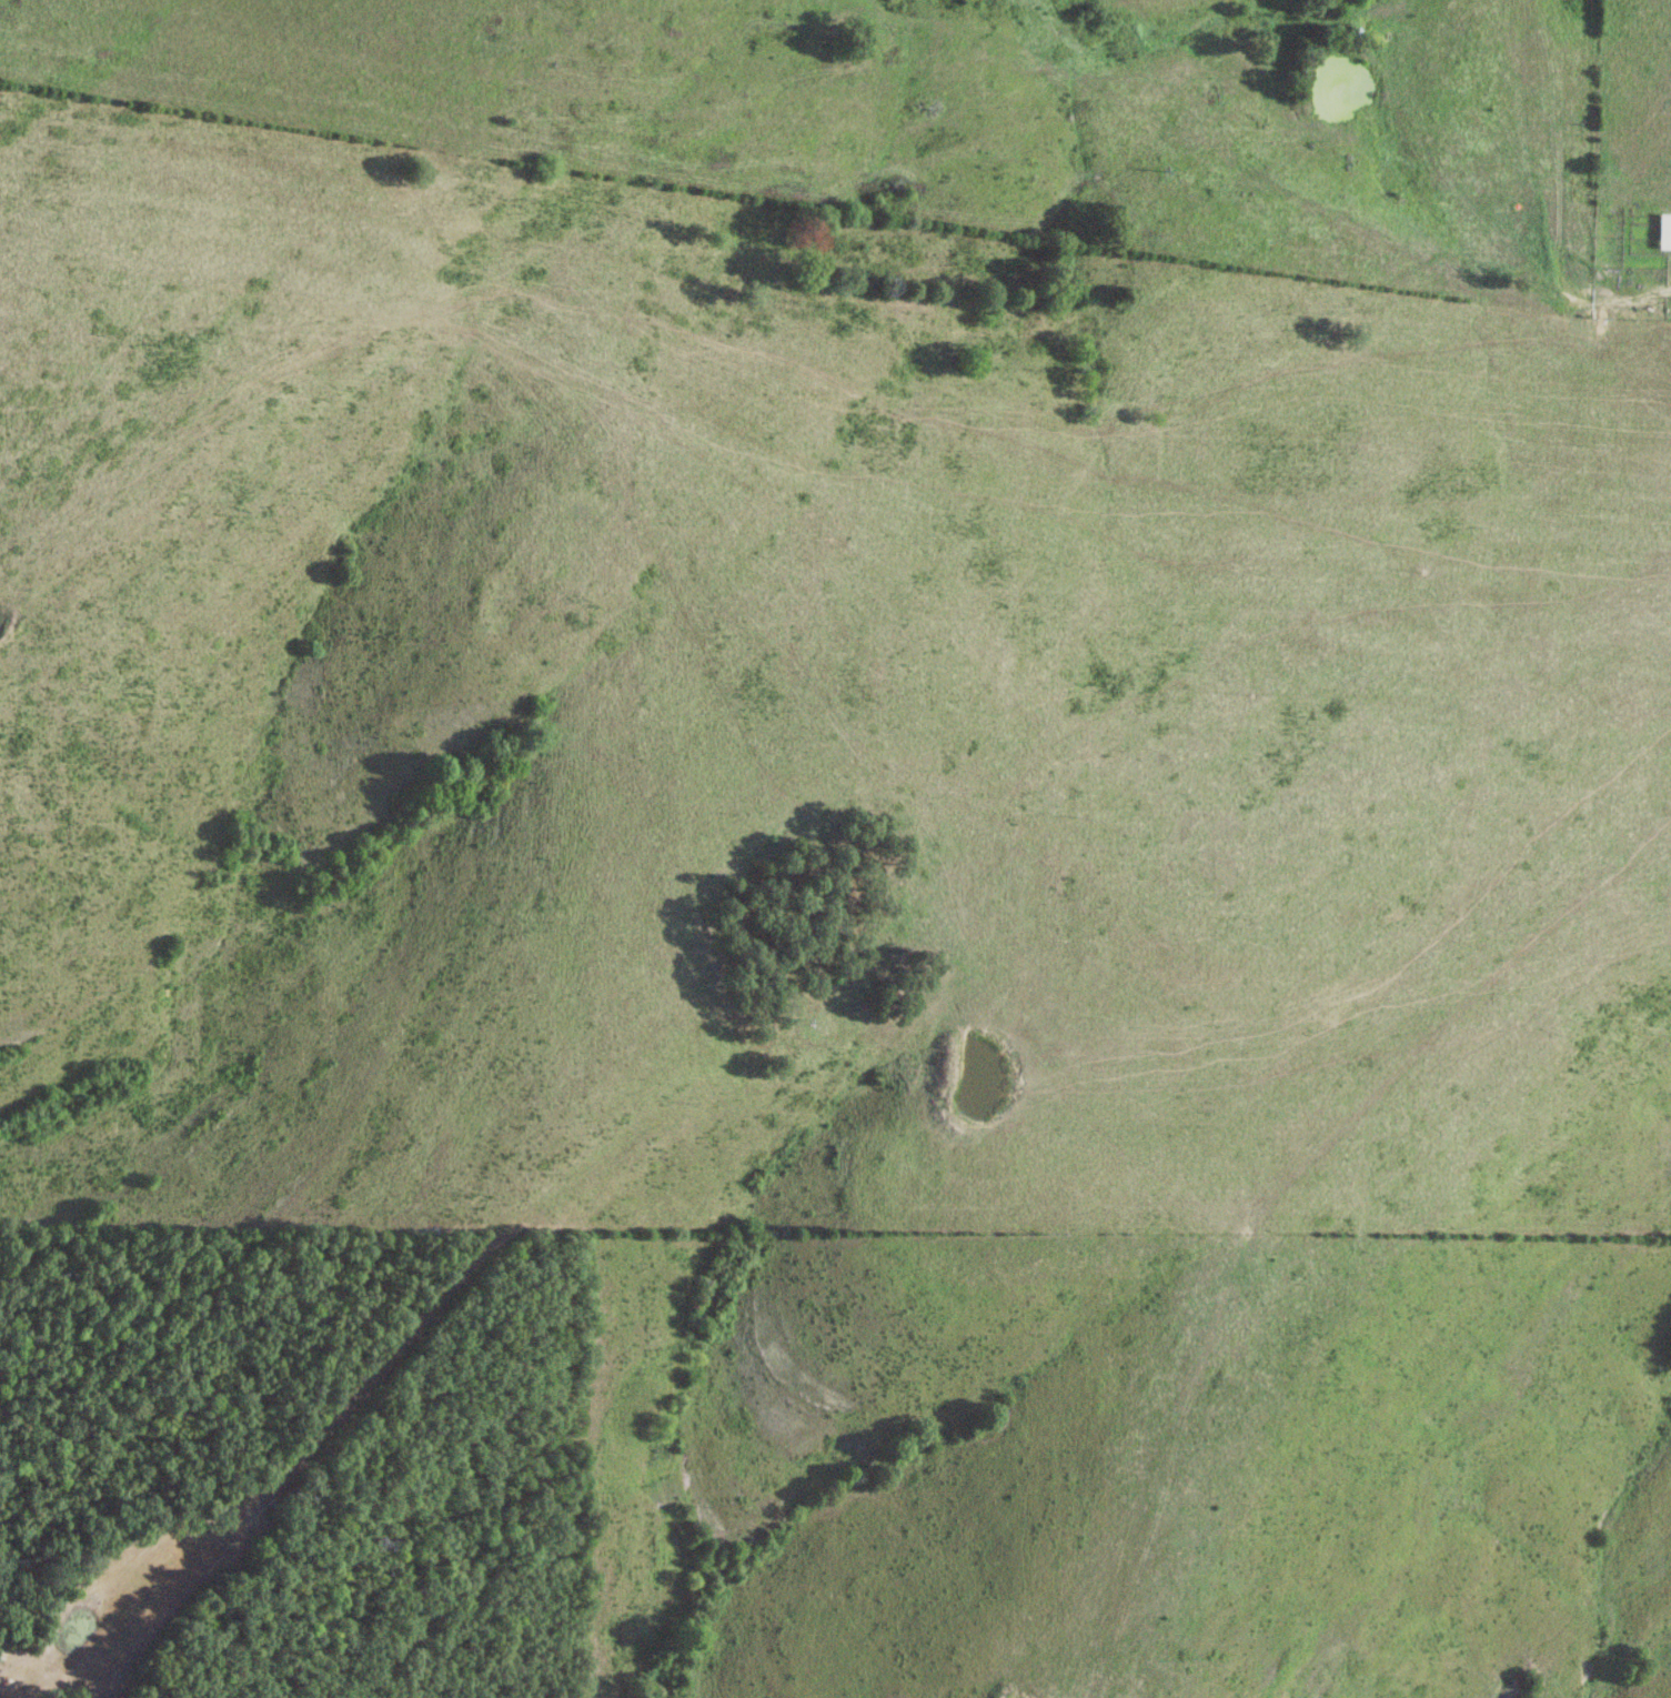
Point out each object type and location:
building: (1661, 232)

